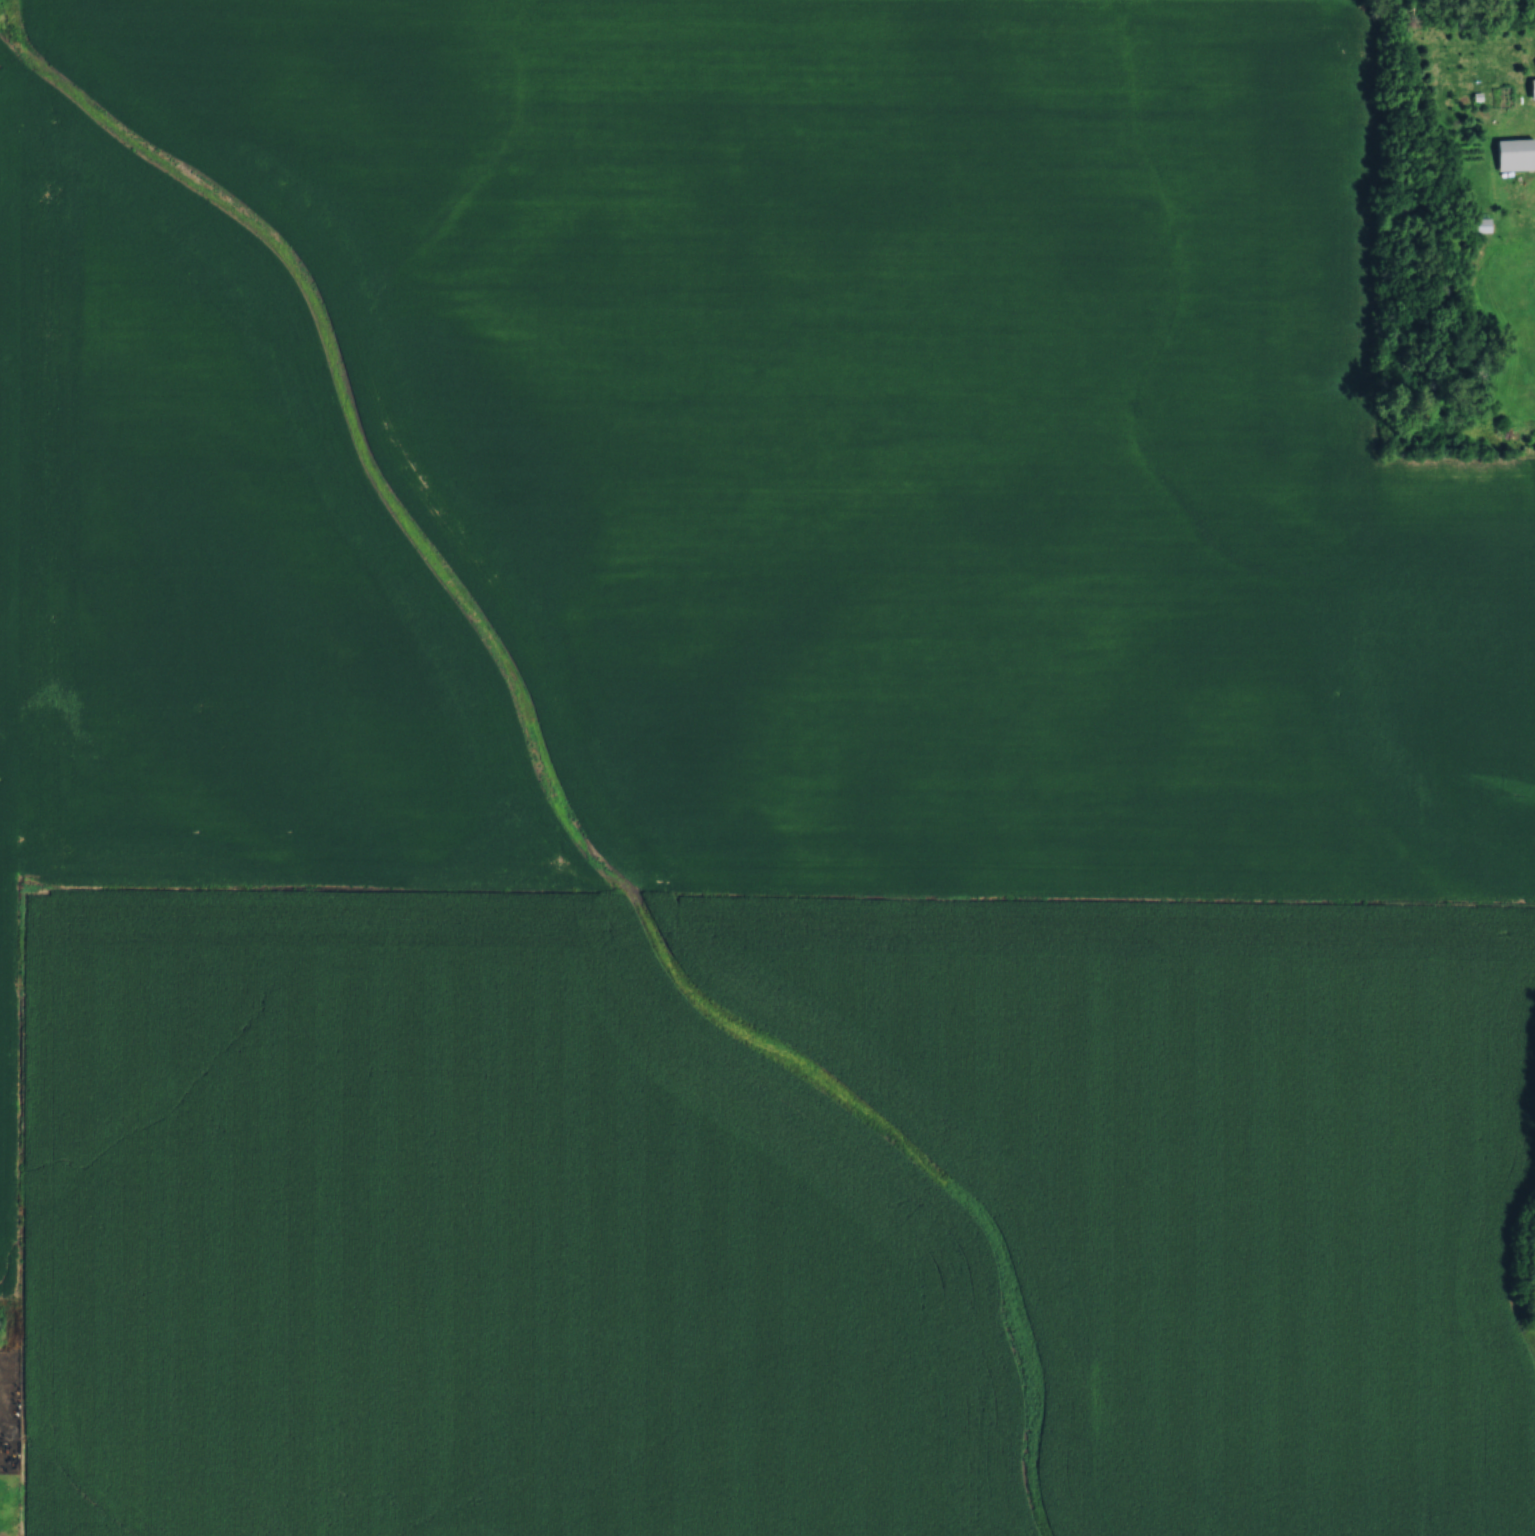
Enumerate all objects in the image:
building: (1530, 86)
building: (1513, 152)
building: (1482, 222)

